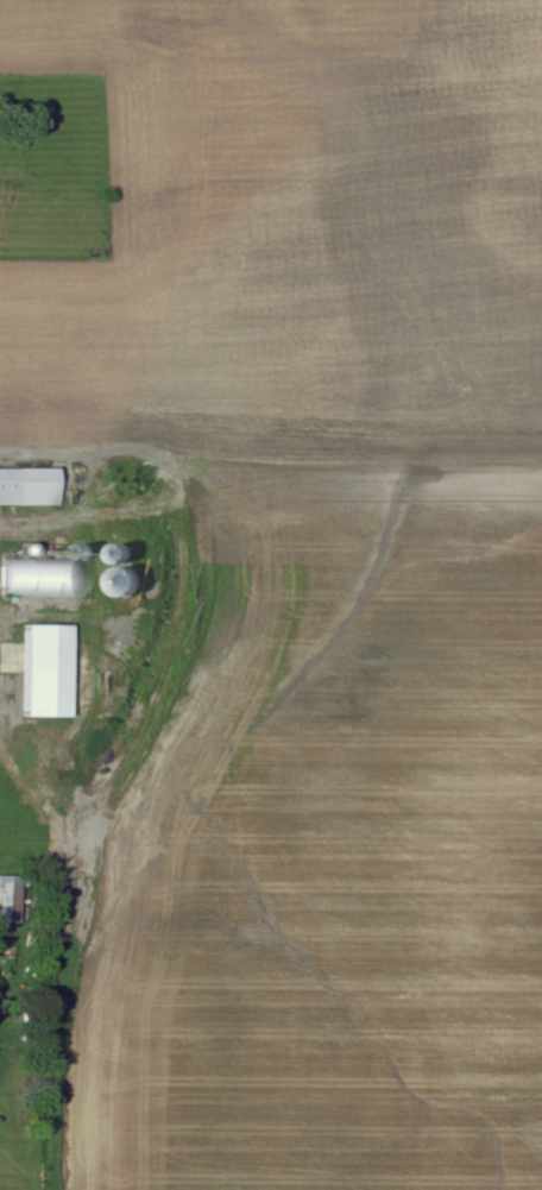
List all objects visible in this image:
road: (73, 484)
building: (30, 487)
building: (44, 580)
building: (49, 672)
building: (11, 900)

